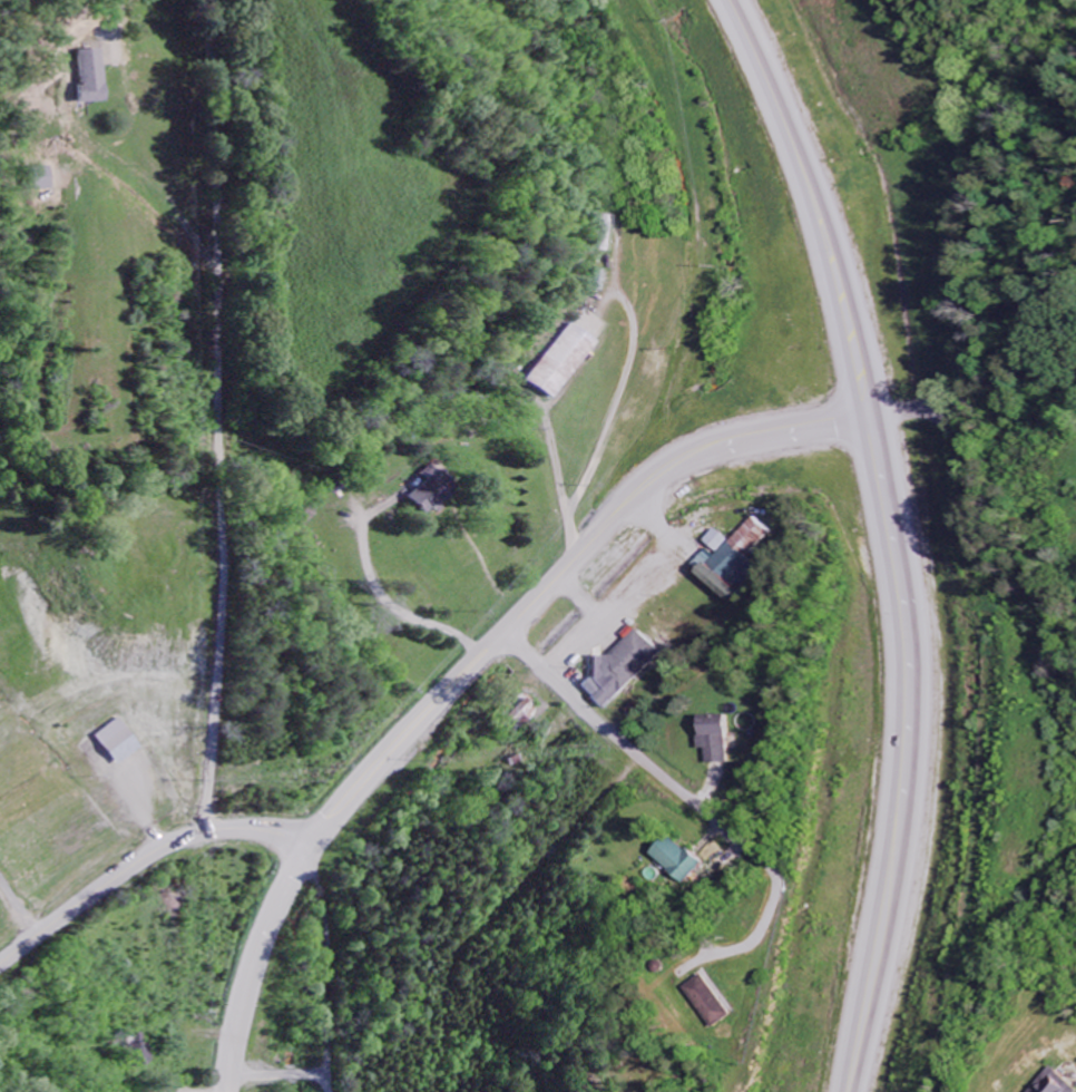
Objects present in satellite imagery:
building: (92, 77)
building: (605, 234)
building: (560, 363)
road: (222, 415)
building: (433, 494)
road: (882, 537)
building: (733, 563)
building: (624, 670)
road: (464, 673)
building: (525, 712)
building: (718, 741)
building: (119, 743)
road: (628, 750)
road: (137, 860)
building: (684, 862)
road: (18, 907)
road: (332, 965)
building: (720, 1005)
building: (138, 1051)
building: (1058, 1082)

